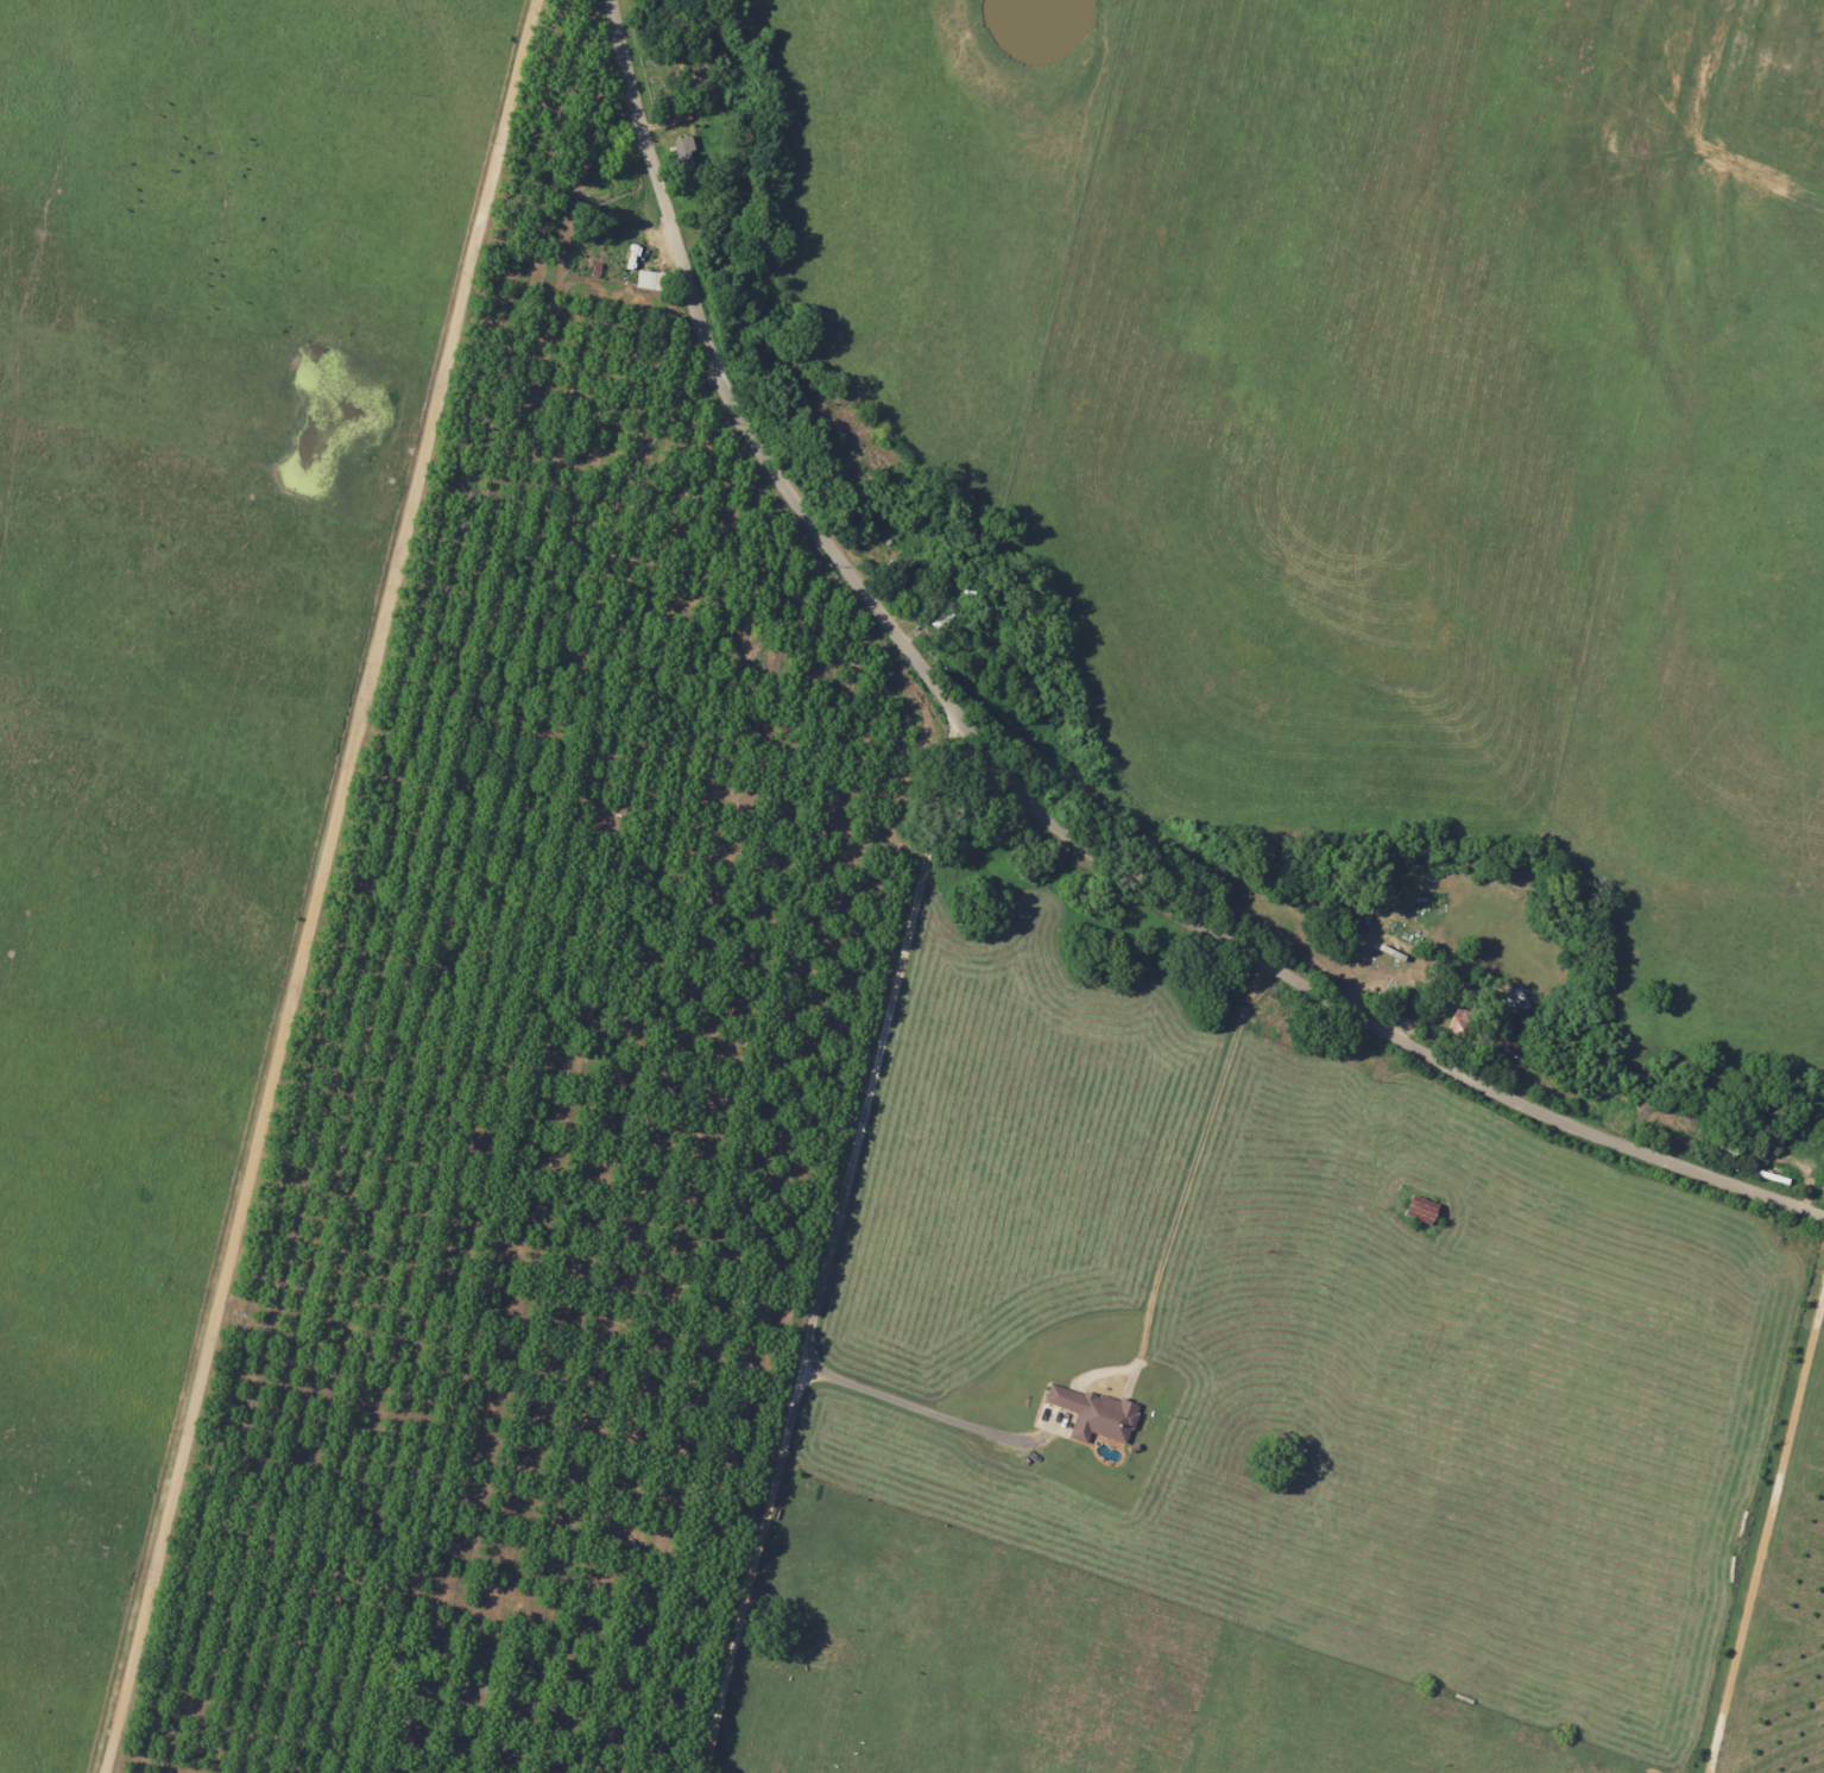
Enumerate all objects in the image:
road: (1023, 795)
road: (317, 885)
road: (1198, 1163)
road: (832, 1244)
road: (927, 1414)
road: (1766, 1538)

